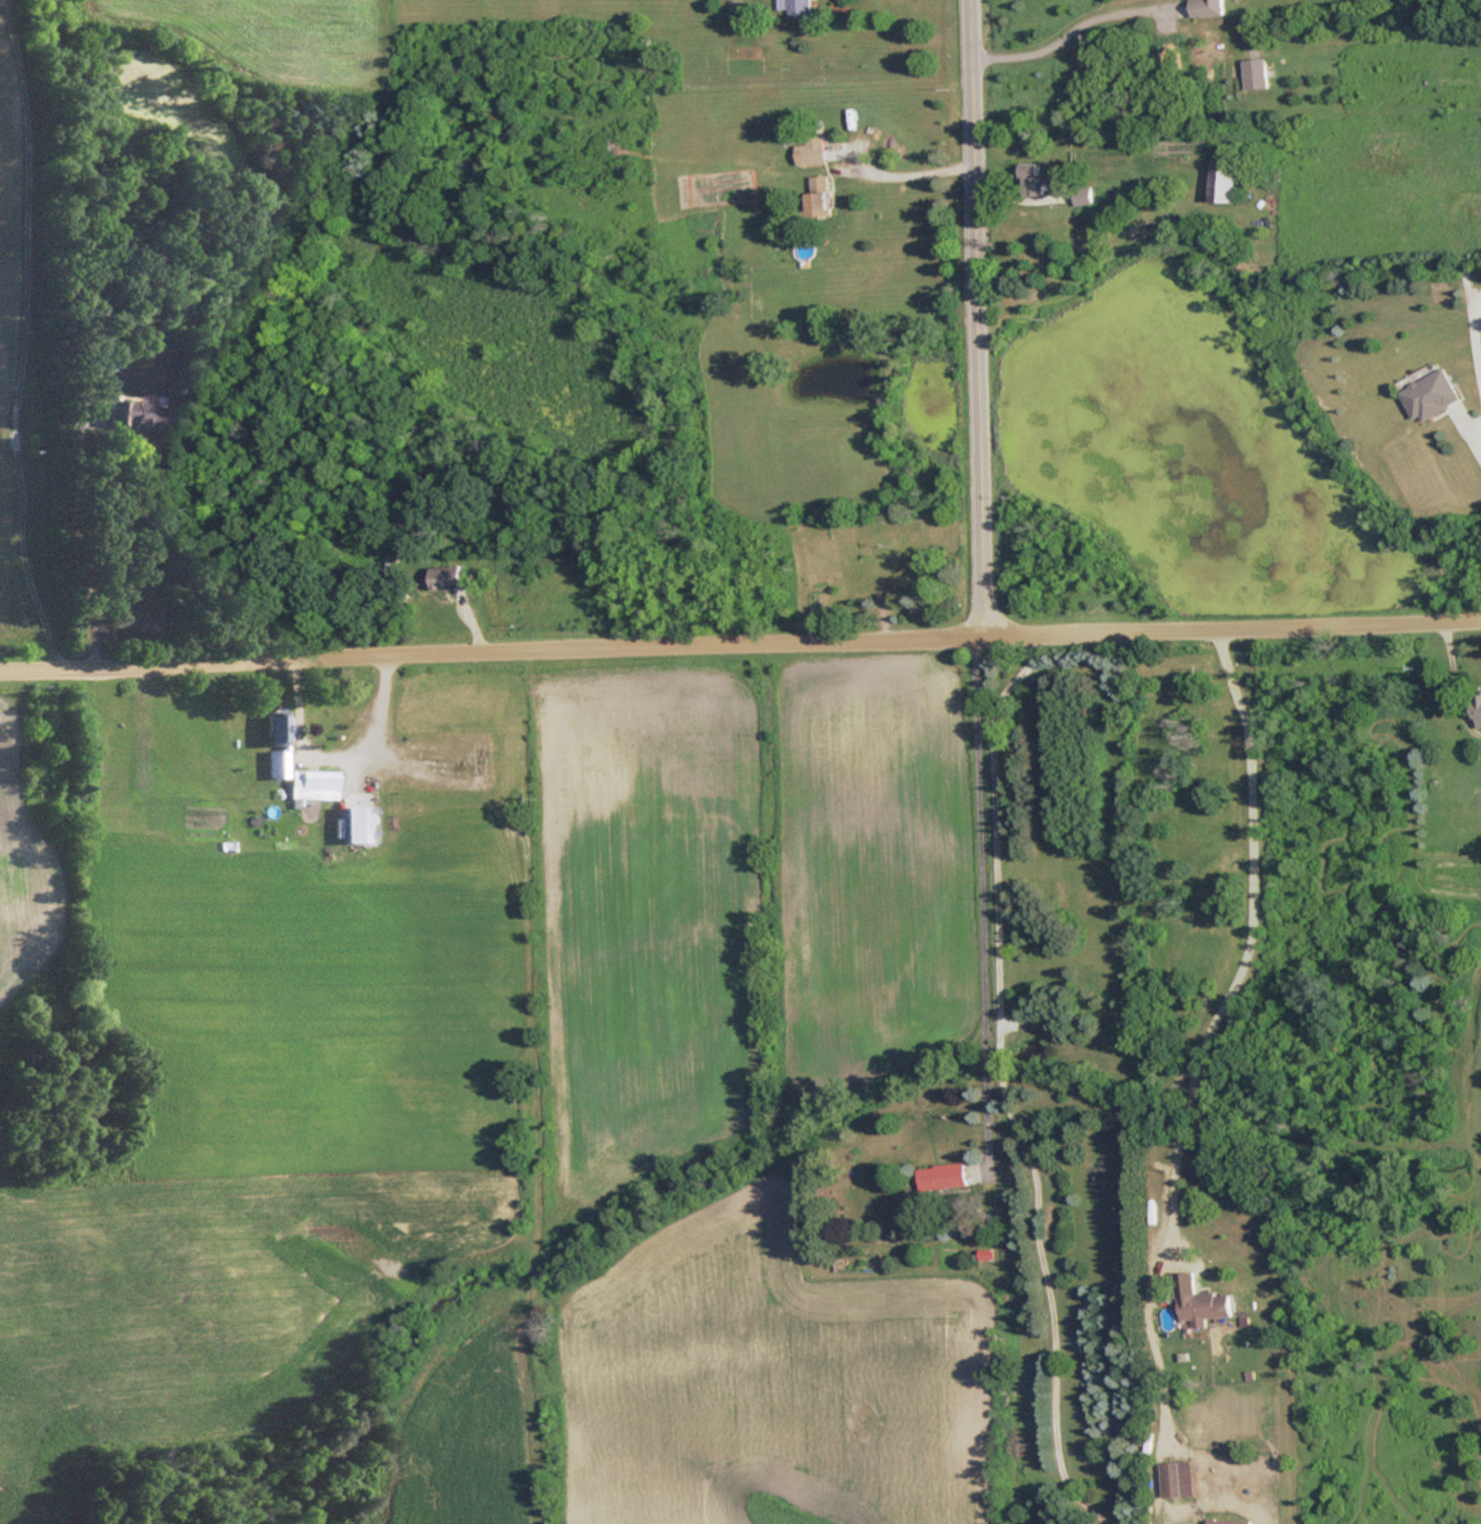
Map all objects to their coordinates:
building: (1202, 7)
building: (795, 8)
road: (1062, 34)
building: (1252, 74)
building: (783, 132)
building: (807, 146)
road: (904, 179)
building: (1028, 180)
building: (1219, 180)
building: (813, 196)
building: (1079, 196)
road: (971, 319)
road: (1474, 363)
building: (1428, 396)
building: (136, 417)
road: (101, 541)
building: (897, 571)
building: (443, 578)
road: (740, 645)
building: (1475, 710)
building: (274, 744)
road: (329, 758)
building: (143, 775)
building: (310, 784)
building: (353, 823)
road: (976, 896)
road: (1245, 958)
road: (994, 1081)
building: (940, 1176)
building: (981, 1254)
building: (1201, 1307)
building: (1171, 1479)

